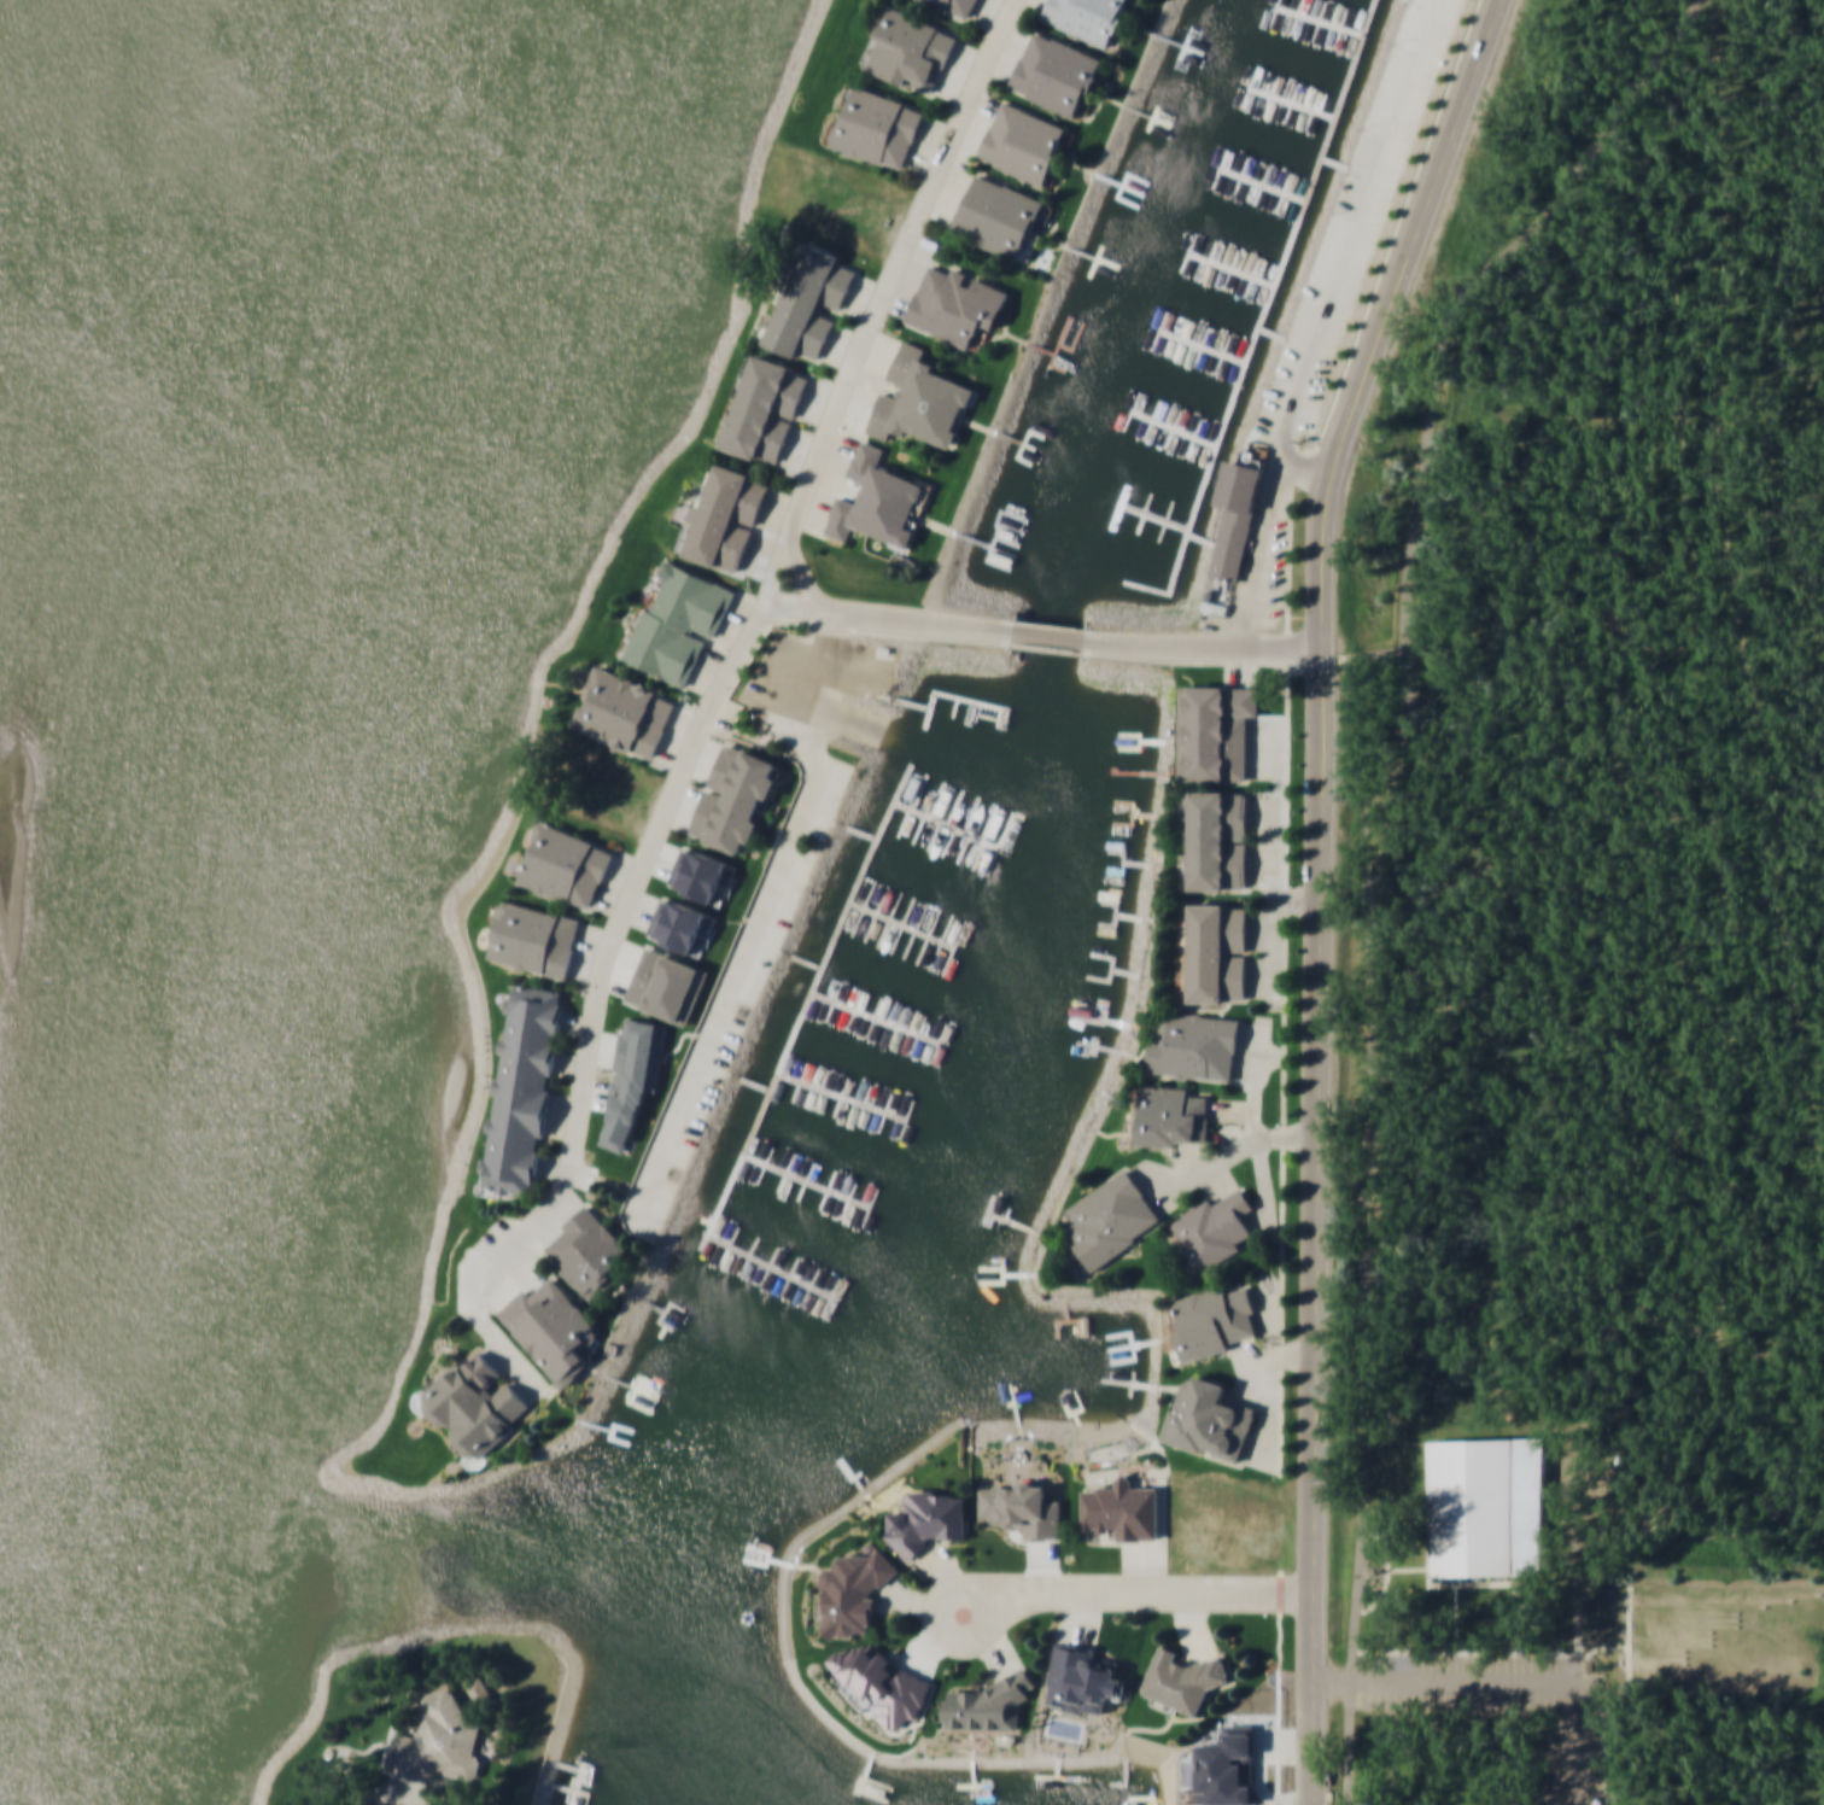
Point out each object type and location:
pier: (1405, 0)
building: (958, 6)
pier: (1273, 13)
pier: (1294, 17)
building: (1089, 18)
pier: (1319, 22)
pier: (1319, 22)
pier: (1338, 28)
building: (911, 49)
building: (1057, 72)
pier: (1245, 90)
pier: (1265, 98)
pier: (1287, 105)
pier: (1290, 105)
pier: (1309, 112)
building: (878, 127)
building: (1023, 141)
pier: (1332, 164)
pier: (1216, 171)
pier: (1237, 180)
pier: (1258, 186)
pier: (1259, 186)
pier: (1280, 193)
building: (1001, 216)
parking lot: (1354, 220)
pier: (1185, 258)
pier: (1205, 267)
pier: (1228, 274)
pier: (1228, 274)
pier: (1249, 281)
building: (811, 300)
building: (954, 304)
pier: (1262, 319)
road: (1317, 320)
pier: (1157, 337)
pier: (1270, 337)
building: (1068, 340)
pier: (1177, 345)
pier: (1200, 351)
pier: (1200, 351)
pier: (1221, 358)
road: (841, 391)
building: (920, 399)
building: (764, 408)
pier: (1128, 421)
pier: (1148, 430)
pier: (1170, 436)
pier: (1171, 436)
pier: (1191, 443)
road: (1310, 462)
park: (1778, 477)
building: (879, 501)
pier: (1117, 510)
pier: (1141, 515)
building: (1237, 515)
building: (725, 516)
pier: (1151, 520)
pier: (1163, 522)
pier: (1202, 539)
road: (774, 568)
road: (794, 611)
building: (677, 621)
road: (1051, 635)
road: (1203, 646)
river: (244, 706)
building: (625, 712)
building: (1216, 730)
pier: (919, 790)
building: (736, 796)
pier: (937, 799)
pier: (955, 806)
pier: (972, 813)
pier: (905, 822)
pier: (989, 822)
pier: (946, 823)
pier: (919, 828)
pier: (1006, 828)
pier: (857, 830)
pier: (934, 835)
building: (1216, 840)
pier: (949, 841)
pier: (964, 847)
road: (1363, 849)
pier: (980, 853)
pier: (994, 859)
building: (565, 863)
road: (1320, 887)
road: (633, 889)
pier: (865, 909)
pier: (877, 915)
pier: (890, 918)
pier: (904, 923)
pier: (904, 925)
pier: (916, 930)
pier: (929, 935)
building: (534, 937)
pier: (942, 941)
pier: (955, 946)
building: (1215, 952)
pier: (802, 960)
pier: (834, 1003)
pier: (807, 1005)
pier: (854, 1012)
pier: (873, 1021)
pier: (873, 1022)
pier: (895, 1032)
pier: (917, 1040)
building: (1195, 1045)
pier: (936, 1050)
pier: (750, 1082)
pier: (800, 1083)
building: (522, 1087)
pier: (819, 1092)
pier: (841, 1102)
pier: (841, 1102)
pier: (861, 1111)
building: (1175, 1115)
pier: (883, 1121)
pier: (904, 1129)
road: (1229, 1149)
pier: (765, 1164)
pier: (787, 1174)
pier: (806, 1182)
pier: (807, 1182)
pier: (828, 1191)
pier: (848, 1201)
pier: (870, 1211)
building: (1113, 1217)
building: (1216, 1228)
pier: (731, 1245)
building: (590, 1251)
pier: (753, 1255)
pier: (772, 1263)
pier: (772, 1264)
pier: (794, 1273)
pier: (814, 1283)
road: (480, 1287)
pier: (835, 1291)
building: (1214, 1321)
building: (553, 1328)
building: (475, 1404)
building: (1211, 1419)
building: (1472, 1506)
building: (1122, 1509)
building: (928, 1518)
road: (1409, 1569)
road: (1389, 1573)
road: (1487, 1583)
building: (854, 1590)
road: (1154, 1593)
road: (1457, 1620)
road: (1631, 1632)
park: (1717, 1634)
road: (557, 1635)
road: (1537, 1640)
road: (964, 1641)
road: (1609, 1647)
road: (1473, 1657)
building: (1085, 1678)
building: (1181, 1680)
building: (481, 1689)
building: (984, 1705)
parking lot: (1510, 1705)
building: (440, 1742)
road: (333, 1776)
road: (375, 1798)

